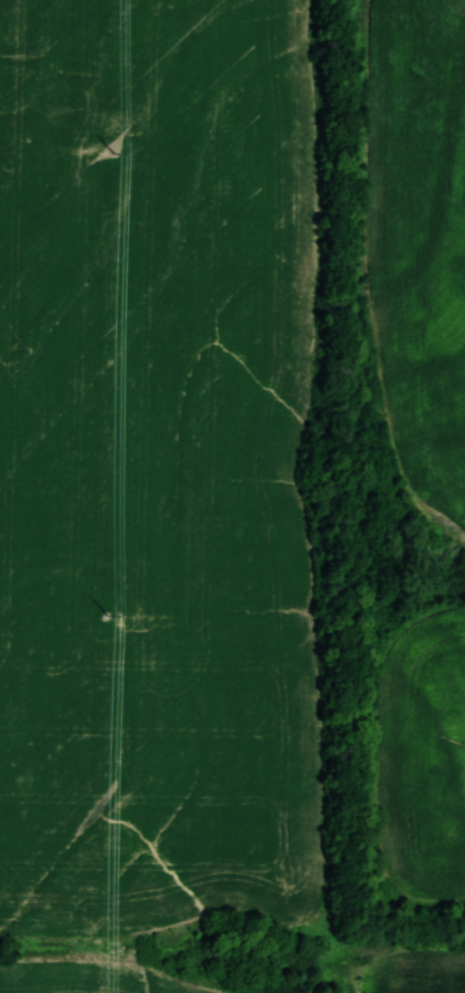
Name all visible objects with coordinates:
power tower: (113, 156)
power tower: (106, 619)

